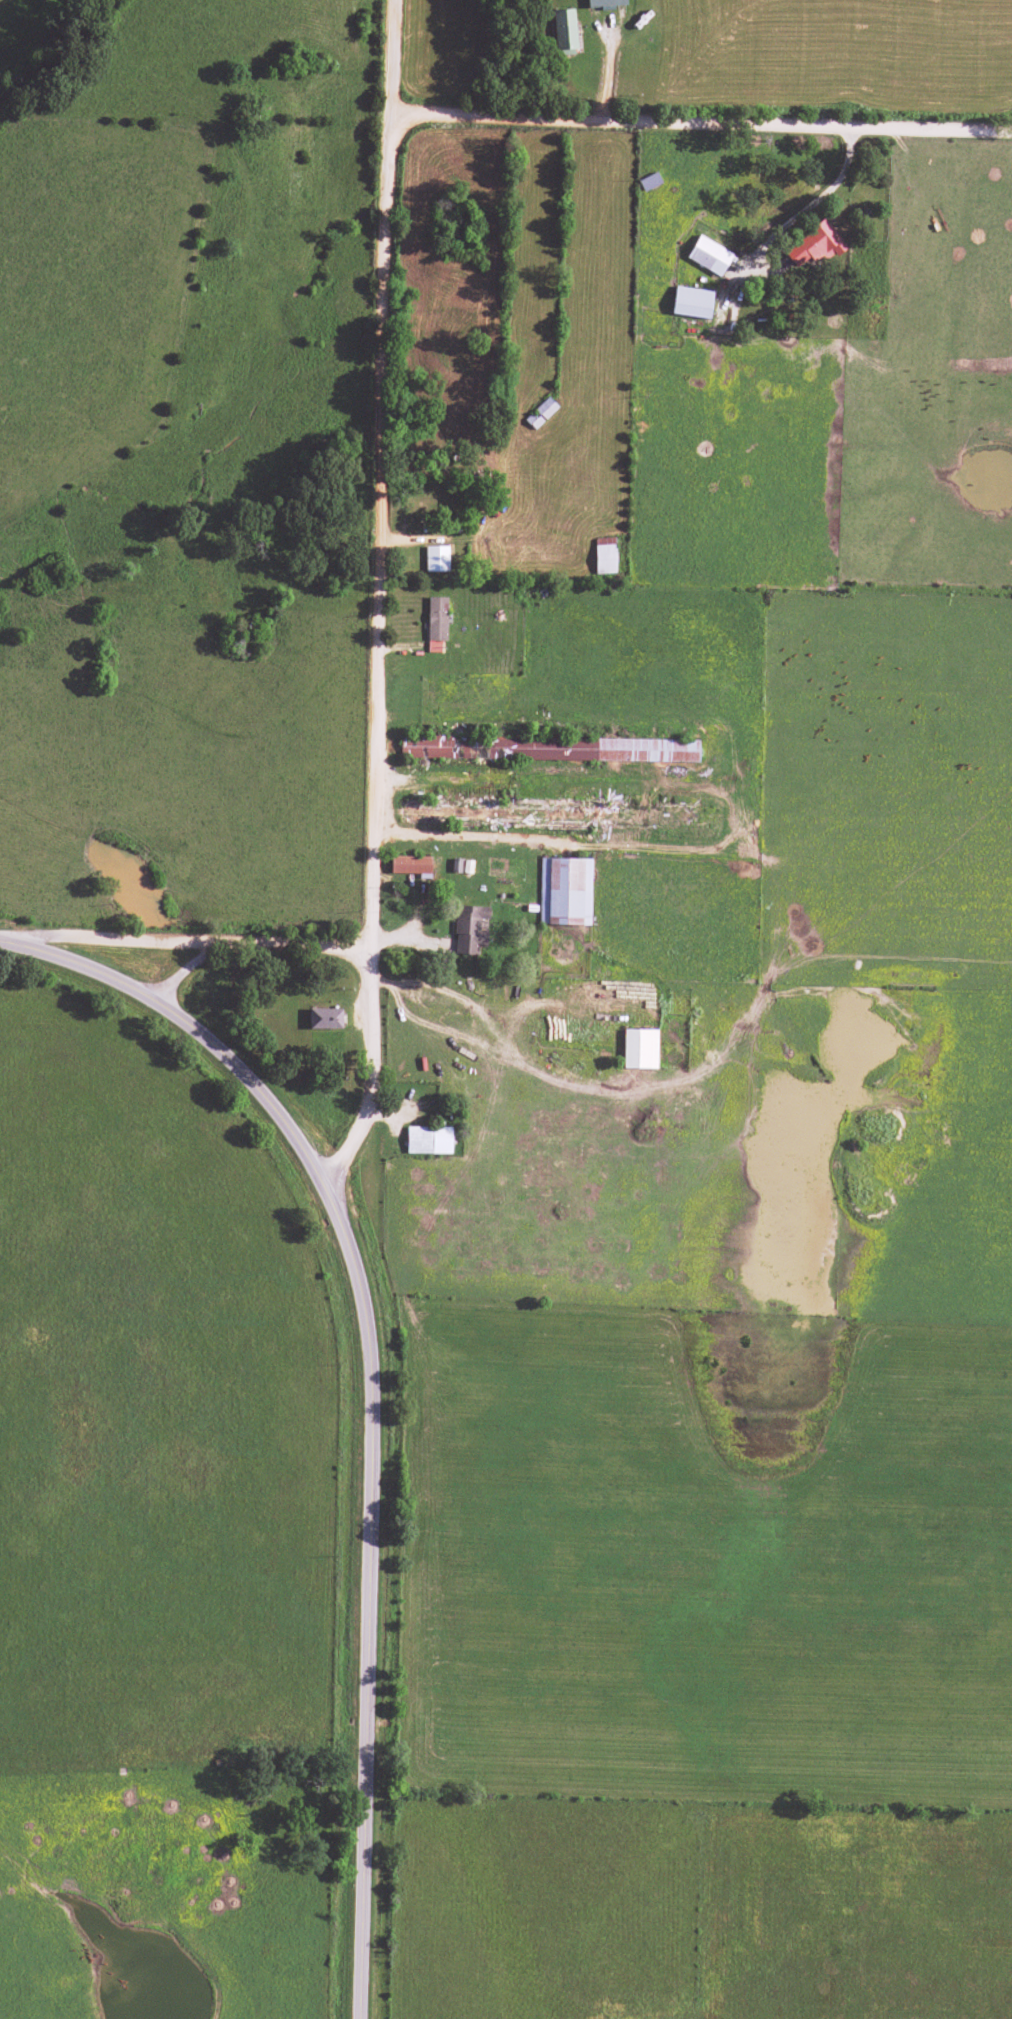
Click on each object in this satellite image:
building: (605, 2)
building: (564, 32)
road: (703, 124)
building: (815, 245)
building: (708, 255)
building: (691, 302)
building: (604, 555)
building: (436, 558)
road: (382, 599)
building: (436, 623)
building: (549, 748)
road: (467, 837)
building: (410, 865)
building: (564, 891)
building: (470, 929)
road: (261, 957)
building: (324, 1019)
building: (639, 1049)
building: (428, 1140)
road: (377, 1386)

